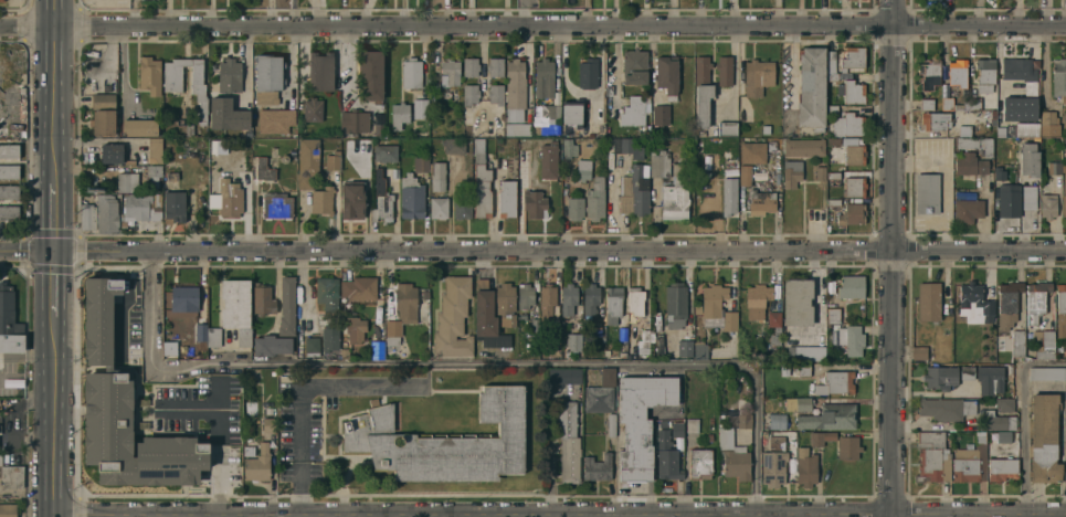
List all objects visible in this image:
building: (1, 1)
parking lot: (110, 3)
road: (532, 27)
building: (853, 57)
building: (830, 61)
building: (471, 67)
building: (495, 67)
building: (635, 67)
building: (725, 71)
building: (320, 72)
building: (958, 73)
building: (411, 74)
building: (450, 74)
building: (588, 74)
building: (929, 74)
building: (985, 74)
building: (1020, 74)
building: (173, 75)
building: (149, 76)
building: (370, 76)
building: (667, 76)
building: (758, 77)
building: (832, 77)
building: (1058, 77)
building: (229, 80)
building: (268, 80)
building: (515, 85)
building: (548, 89)
building: (811, 89)
road: (55, 91)
building: (199, 92)
building: (701, 92)
building: (854, 93)
building: (469, 95)
building: (496, 95)
building: (974, 104)
building: (952, 105)
building: (656, 108)
building: (420, 109)
building: (1018, 109)
building: (242, 110)
building: (313, 110)
building: (634, 113)
building: (572, 114)
building: (103, 115)
building: (226, 115)
building: (399, 116)
building: (275, 122)
building: (355, 123)
building: (948, 123)
building: (1048, 125)
building: (848, 126)
building: (139, 128)
building: (379, 129)
building: (520, 129)
building: (727, 129)
building: (766, 129)
building: (1026, 130)
building: (1000, 131)
building: (3, 133)
building: (975, 145)
building: (1065, 145)
building: (454, 146)
building: (624, 146)
building: (771, 146)
building: (569, 148)
building: (804, 148)
building: (155, 149)
building: (363, 149)
building: (9, 151)
building: (386, 151)
building: (854, 151)
building: (112, 154)
building: (752, 154)
building: (548, 160)
building: (1028, 160)
building: (333, 161)
building: (307, 162)
building: (659, 163)
building: (421, 165)
building: (970, 165)
building: (1054, 169)
building: (264, 170)
building: (583, 170)
building: (9, 172)
building: (791, 173)
building: (821, 173)
building: (749, 176)
building: (1000, 176)
building: (439, 178)
building: (139, 180)
building: (481, 182)
building: (855, 188)
building: (9, 192)
building: (634, 193)
building: (928, 194)
parking lot: (949, 194)
building: (729, 197)
building: (1064, 197)
building: (412, 198)
building: (230, 199)
building: (507, 199)
building: (675, 199)
building: (1028, 199)
building: (352, 200)
building: (381, 200)
building: (595, 200)
building: (761, 200)
building: (321, 201)
building: (1007, 202)
building: (173, 203)
building: (535, 204)
building: (277, 207)
building: (1048, 207)
building: (141, 208)
building: (439, 209)
building: (462, 209)
building: (574, 209)
building: (968, 211)
building: (9, 213)
building: (106, 214)
building: (852, 214)
road: (55, 218)
building: (87, 218)
road: (532, 250)
traffic signals: (55, 253)
road: (891, 257)
road: (54, 284)
building: (851, 287)
building: (359, 289)
building: (327, 294)
building: (525, 297)
building: (183, 299)
building: (1062, 299)
building: (591, 300)
building: (1036, 300)
building: (263, 302)
building: (757, 302)
building: (929, 302)
building: (798, 303)
building: (235, 304)
building: (506, 304)
building: (635, 304)
building: (973, 304)
building: (613, 305)
building: (1007, 305)
building: (675, 306)
building: (287, 307)
building: (549, 307)
building: (716, 309)
building: (402, 313)
building: (572, 316)
building: (833, 316)
building: (98, 318)
building: (453, 318)
building: (487, 318)
building: (9, 326)
building: (774, 327)
building: (356, 330)
building: (201, 336)
building: (244, 338)
building: (329, 338)
building: (213, 340)
building: (644, 340)
building: (686, 341)
building: (854, 341)
building: (1017, 344)
building: (312, 345)
building: (271, 346)
building: (1046, 347)
building: (169, 348)
building: (1059, 349)
building: (377, 350)
building: (700, 352)
building: (806, 354)
building: (922, 354)
parking lot: (13, 358)
parking lot: (13, 367)
road: (468, 367)
building: (804, 370)
building: (967, 373)
building: (1045, 374)
building: (1064, 374)
building: (564, 376)
building: (608, 378)
building: (940, 378)
building: (990, 380)
building: (835, 383)
road: (299, 397)
building: (599, 400)
building: (798, 404)
building: (1004, 404)
parking lot: (330, 408)
road: (194, 409)
building: (944, 409)
road: (54, 416)
building: (830, 418)
road: (1025, 420)
building: (640, 422)
building: (745, 422)
building: (778, 422)
building: (995, 422)
building: (268, 425)
building: (611, 425)
building: (692, 426)
building: (677, 430)
building: (821, 439)
building: (1044, 439)
building: (568, 442)
building: (445, 443)
building: (775, 444)
building: (998, 445)
building: (249, 447)
building: (847, 449)
road: (1065, 450)
building: (666, 457)
building: (732, 457)
building: (931, 458)
building: (1, 460)
building: (124, 460)
road: (222, 462)
building: (970, 462)
building: (699, 464)
building: (257, 465)
building: (597, 468)
building: (772, 468)
building: (805, 468)
building: (1002, 469)
building: (11, 477)
building: (8, 510)
road: (560, 515)
road: (306, 516)
road: (369, 516)

